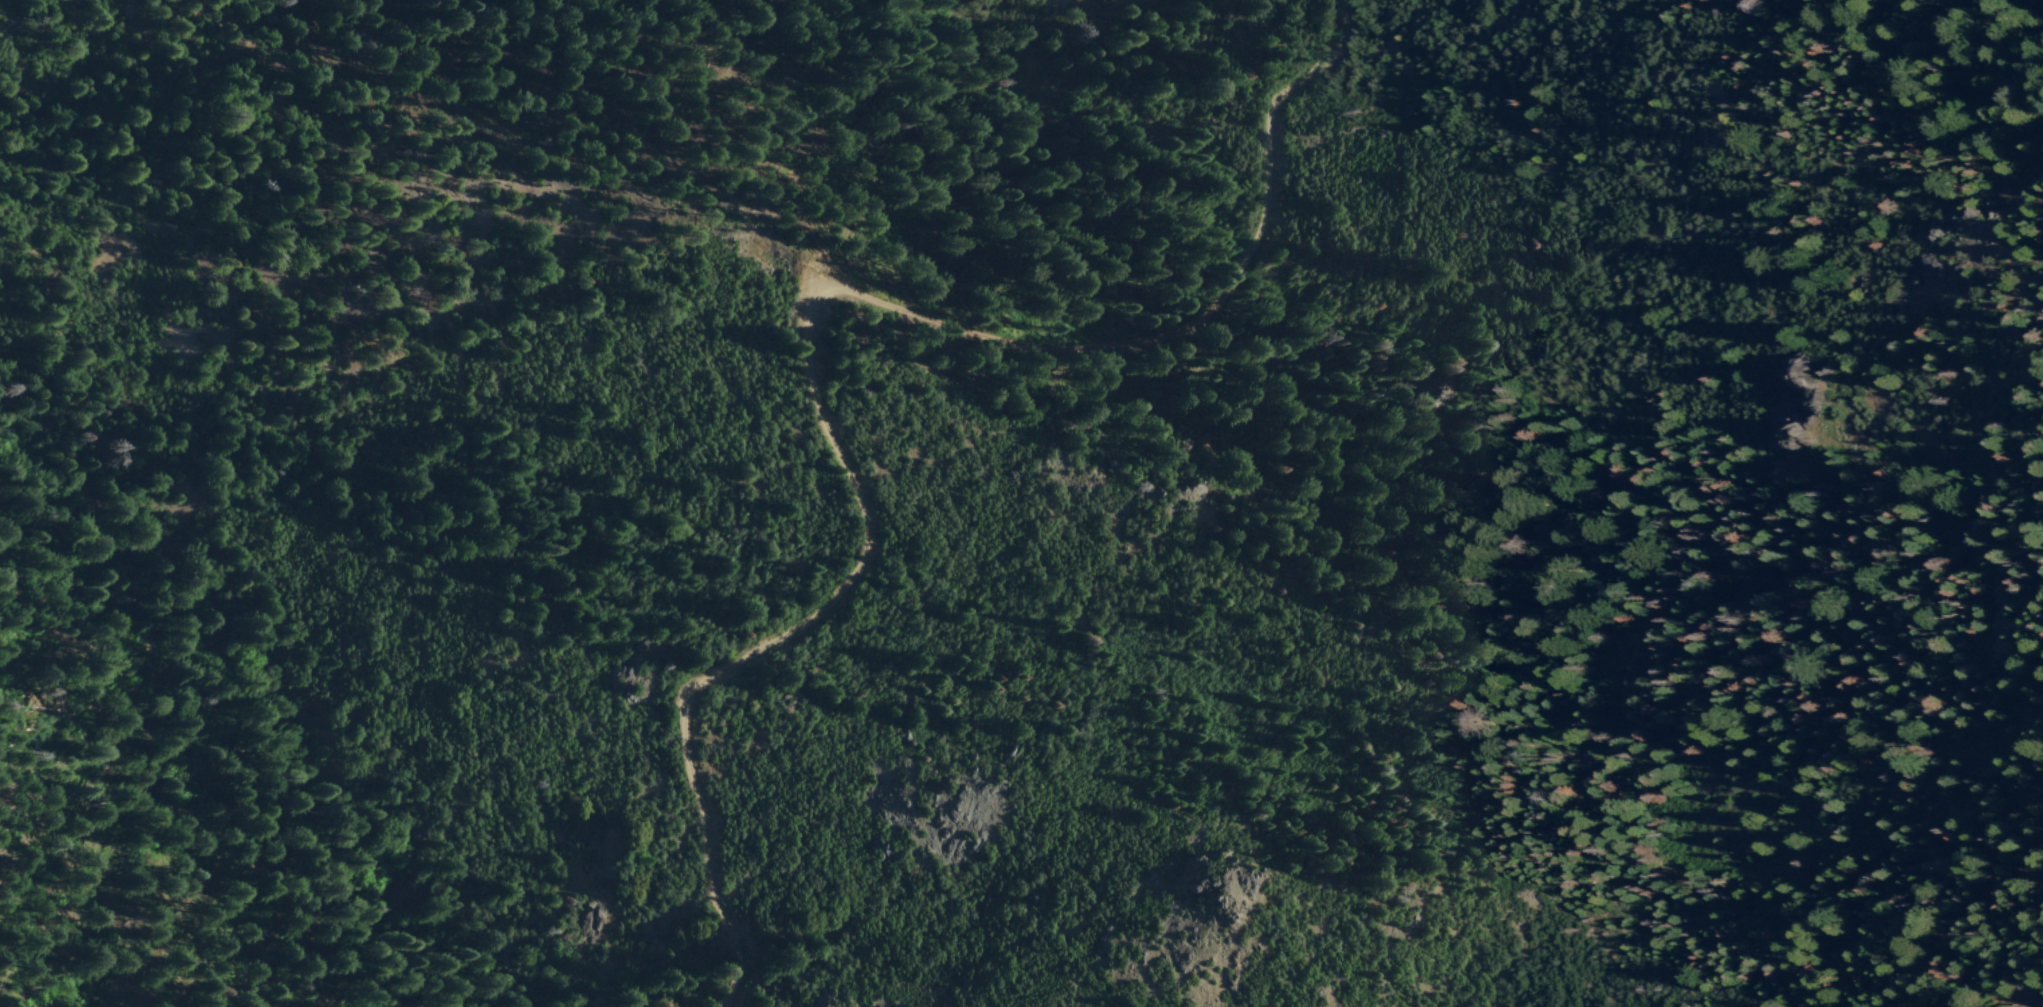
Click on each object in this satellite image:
road: (811, 323)

